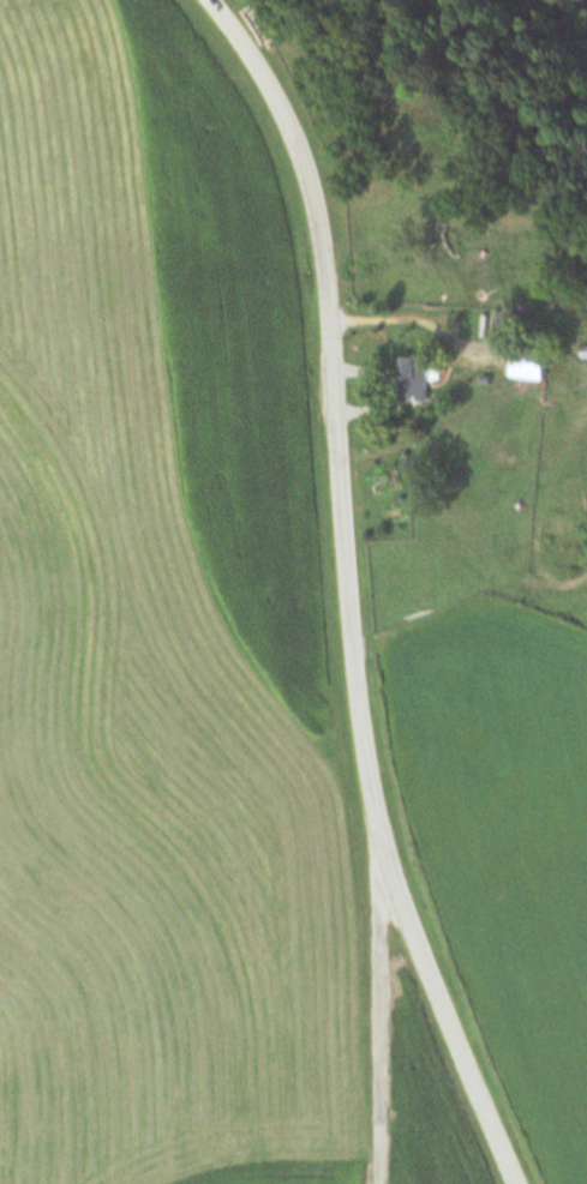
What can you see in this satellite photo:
building: (581, 353)
building: (525, 362)
building: (413, 377)
road: (353, 591)

